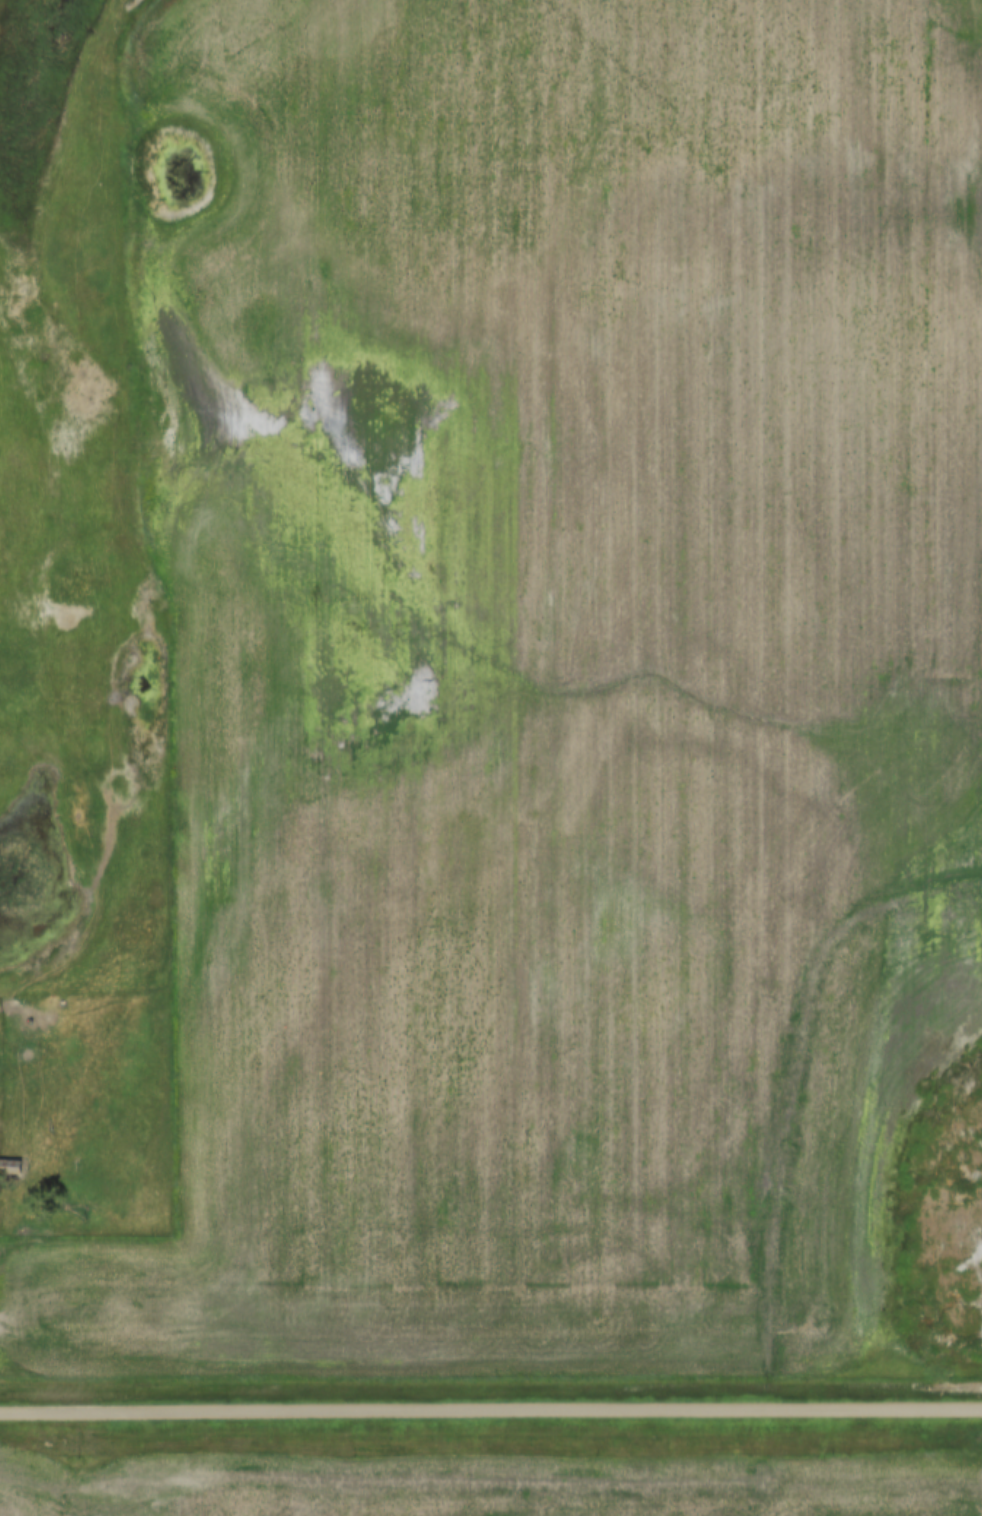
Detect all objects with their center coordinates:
road: (490, 1415)

